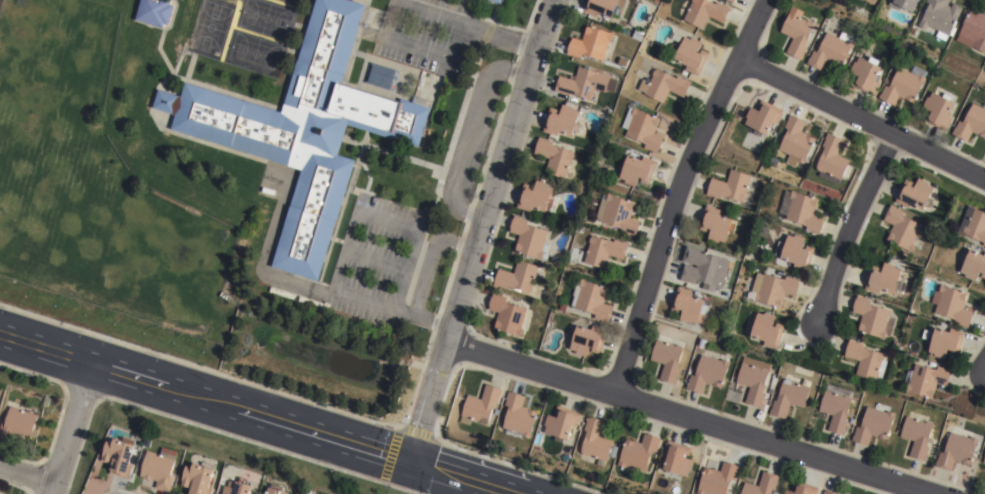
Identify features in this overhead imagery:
building: (730, 0)
building: (871, 0)
building: (901, 2)
building: (490, 3)
building: (602, 6)
building: (155, 10)
building: (705, 10)
building: (940, 16)
road: (483, 26)
building: (972, 29)
building: (796, 30)
building: (912, 30)
parking lot: (419, 32)
road: (519, 37)
building: (589, 41)
building: (831, 48)
building: (687, 51)
road: (450, 59)
building: (865, 72)
building: (581, 81)
building: (663, 83)
building: (902, 83)
building: (937, 108)
building: (762, 115)
building: (561, 118)
road: (862, 119)
building: (971, 121)
building: (642, 126)
building: (304, 127)
road: (468, 136)
building: (795, 138)
building: (553, 155)
building: (831, 158)
building: (636, 167)
building: (729, 184)
road: (678, 189)
building: (914, 191)
building: (534, 195)
building: (801, 209)
building: (617, 212)
building: (973, 222)
building: (715, 223)
road: (855, 227)
building: (900, 227)
road: (481, 231)
building: (527, 236)
building: (603, 249)
building: (797, 250)
road: (430, 258)
road: (376, 259)
parking lot: (374, 260)
building: (973, 263)
building: (704, 267)
building: (549, 275)
building: (515, 276)
building: (882, 278)
building: (772, 287)
road: (334, 289)
building: (591, 298)
building: (951, 303)
building: (690, 305)
building: (506, 313)
building: (872, 316)
road: (424, 317)
building: (766, 328)
building: (714, 334)
building: (584, 336)
building: (943, 339)
building: (667, 358)
building: (865, 359)
road: (984, 368)
building: (708, 372)
building: (753, 379)
building: (925, 379)
building: (789, 397)
road: (207, 398)
building: (479, 404)
building: (835, 406)
building: (517, 415)
road: (695, 415)
building: (560, 422)
building: (18, 423)
building: (873, 423)
road: (70, 427)
building: (916, 435)
building: (595, 438)
building: (956, 449)
building: (638, 451)
building: (120, 455)
building: (677, 457)
building: (983, 458)
building: (160, 467)
road: (26, 473)
building: (197, 478)
road: (461, 479)
building: (717, 479)
building: (761, 484)
building: (236, 487)
building: (801, 488)
building: (276, 490)
building: (306, 491)
building: (830, 492)

